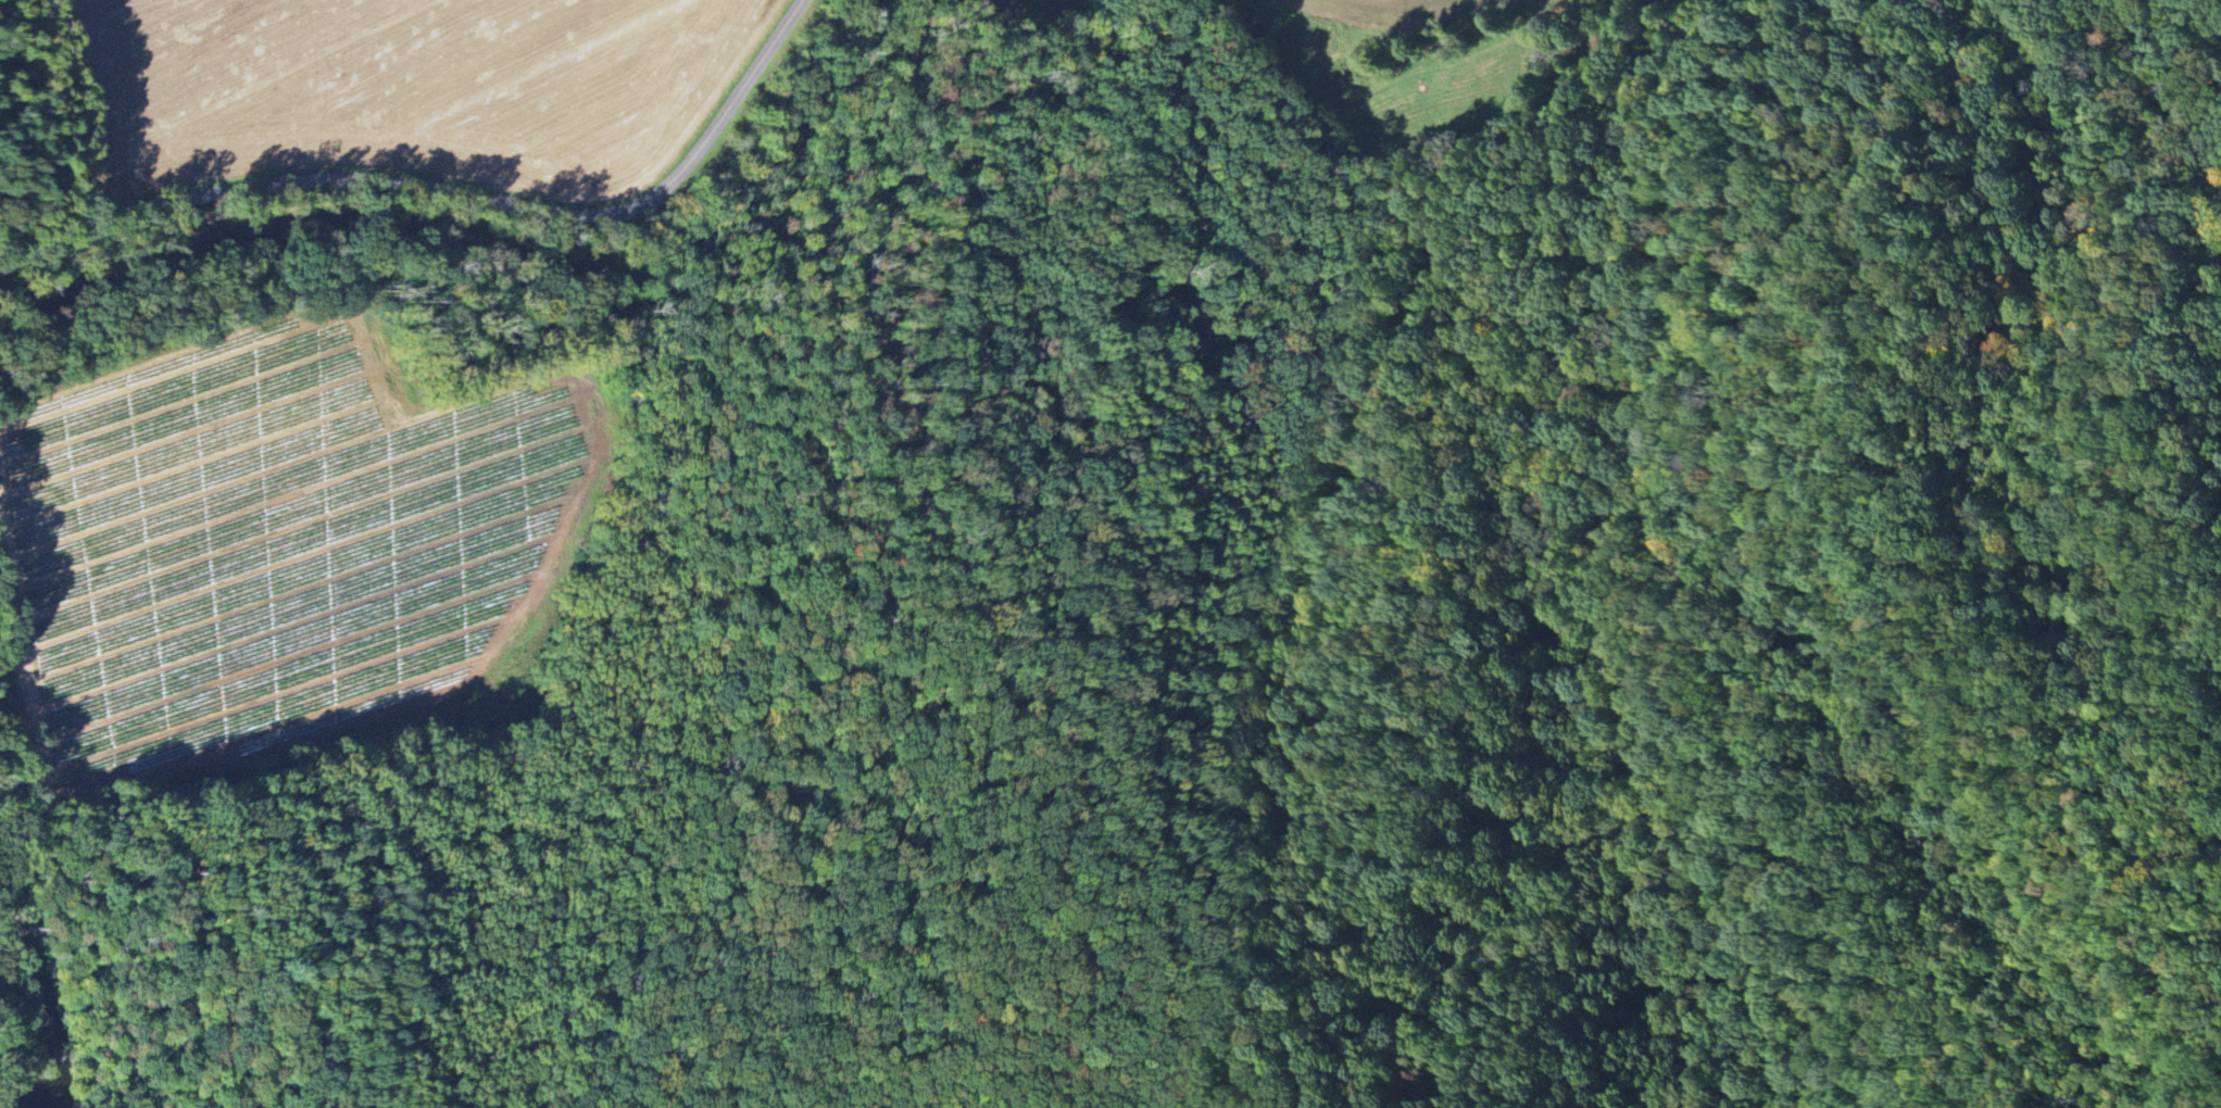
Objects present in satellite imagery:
road: (91, 114)
road: (448, 204)
river: (488, 229)
road: (1171, 398)
river: (40, 1019)

